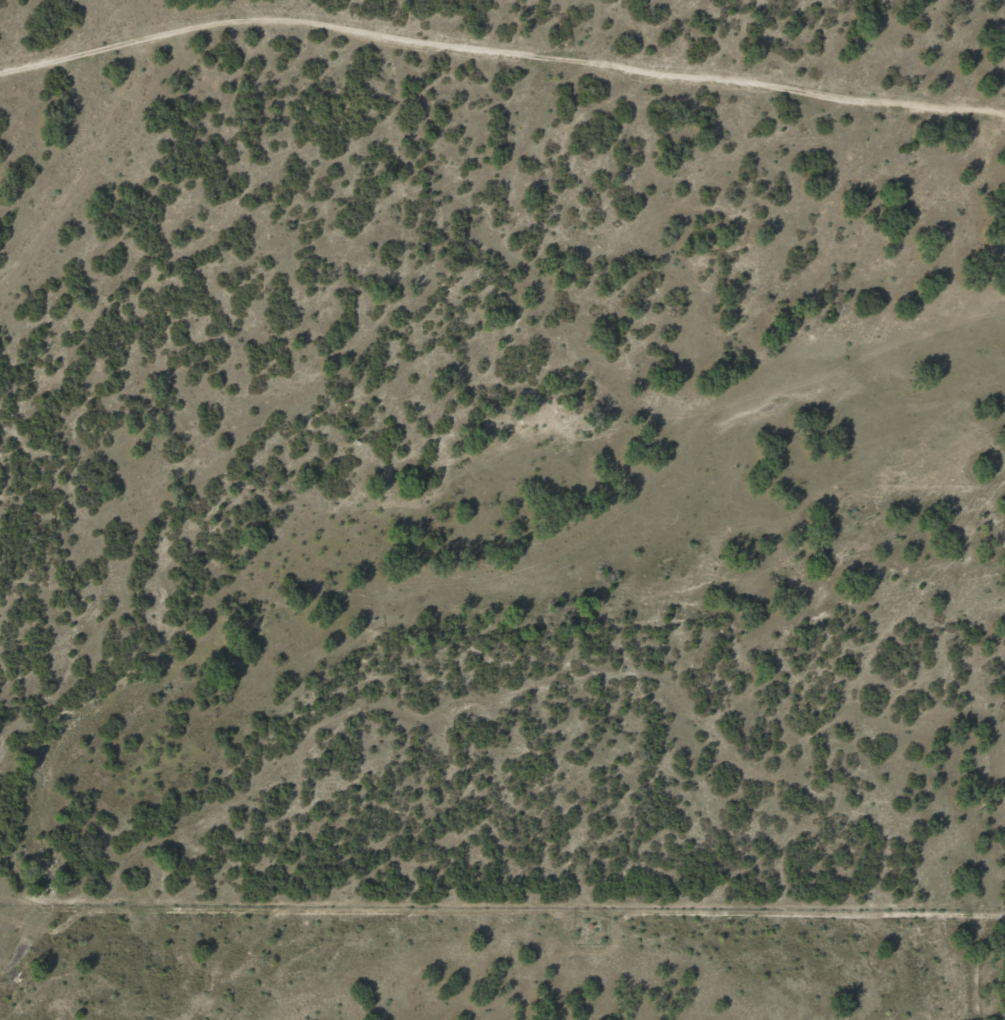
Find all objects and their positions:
road: (501, 56)

